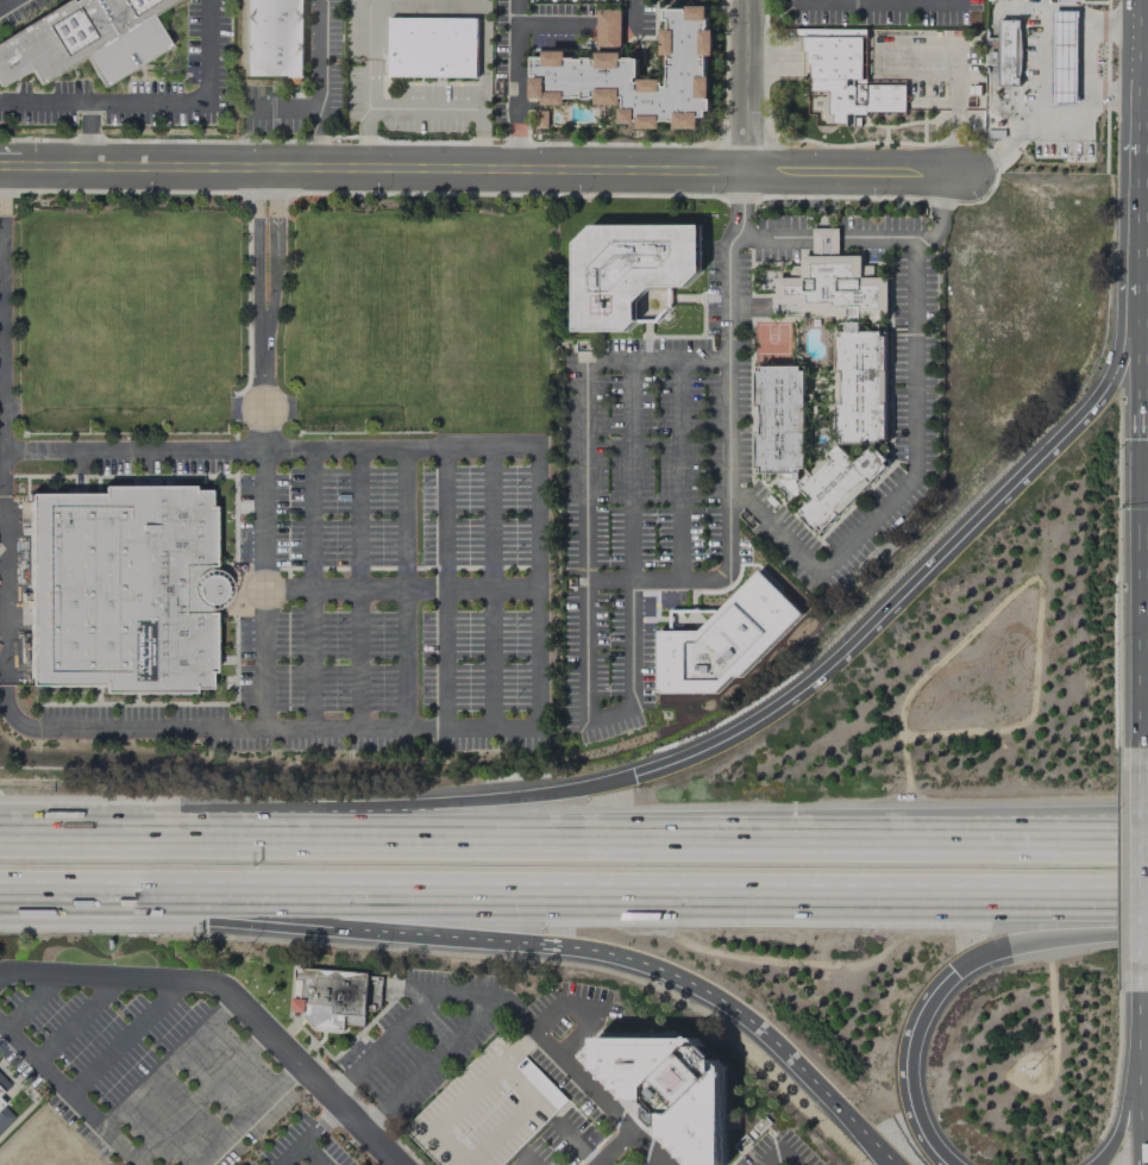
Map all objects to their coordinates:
road: (878, 0)
road: (4, 2)
road: (366, 21)
building: (274, 38)
building: (84, 39)
building: (433, 48)
building: (1005, 54)
building: (1064, 57)
road: (1084, 62)
building: (635, 73)
road: (366, 74)
road: (1039, 74)
building: (848, 75)
road: (324, 83)
road: (515, 83)
road: (752, 84)
road: (153, 104)
road: (422, 104)
road: (284, 109)
road: (89, 133)
road: (366, 134)
road: (478, 136)
road: (1002, 150)
road: (1142, 163)
road: (483, 167)
road: (941, 198)
road: (741, 202)
road: (828, 237)
building: (631, 273)
road: (264, 307)
park: (289, 315)
building: (847, 332)
road: (1122, 364)
road: (1142, 368)
road: (584, 399)
road: (727, 405)
building: (779, 420)
traffic signals: (1146, 438)
road: (1144, 444)
road: (400, 447)
road: (132, 450)
road: (677, 469)
road: (628, 470)
road: (912, 471)
road: (1146, 480)
building: (836, 484)
road: (655, 580)
road: (264, 588)
road: (309, 588)
road: (357, 588)
road: (402, 588)
road: (444, 588)
road: (490, 588)
building: (120, 589)
road: (402, 589)
parking lot: (378, 605)
road: (883, 607)
road: (1146, 614)
building: (683, 619)
building: (724, 641)
road: (1, 653)
road: (604, 714)
road: (150, 727)
road: (540, 728)
traffic signals: (635, 771)
road: (514, 796)
road: (1131, 834)
road: (197, 835)
road: (614, 835)
road: (974, 838)
road: (1131, 838)
road: (1147, 870)
road: (573, 901)
road: (307, 925)
road: (1045, 940)
traffic signals: (951, 977)
road: (485, 996)
road: (230, 997)
building: (330, 997)
road: (1147, 1000)
road: (29, 1002)
road: (740, 1010)
road: (76, 1020)
road: (544, 1021)
road: (124, 1036)
road: (168, 1064)
road: (911, 1072)
building: (2, 1084)
parking lot: (577, 1085)
building: (670, 1089)
road: (69, 1094)
road: (199, 1096)
road: (1127, 1098)
building: (487, 1109)
parking garage: (487, 1109)
building: (4, 1115)
road: (246, 1115)
road: (327, 1115)
road: (309, 1133)
road: (638, 1139)
road: (573, 1141)
road: (614, 1148)
parking lot: (776, 1151)
road: (290, 1153)
road: (314, 1153)
road: (780, 1153)
road: (525, 1158)

